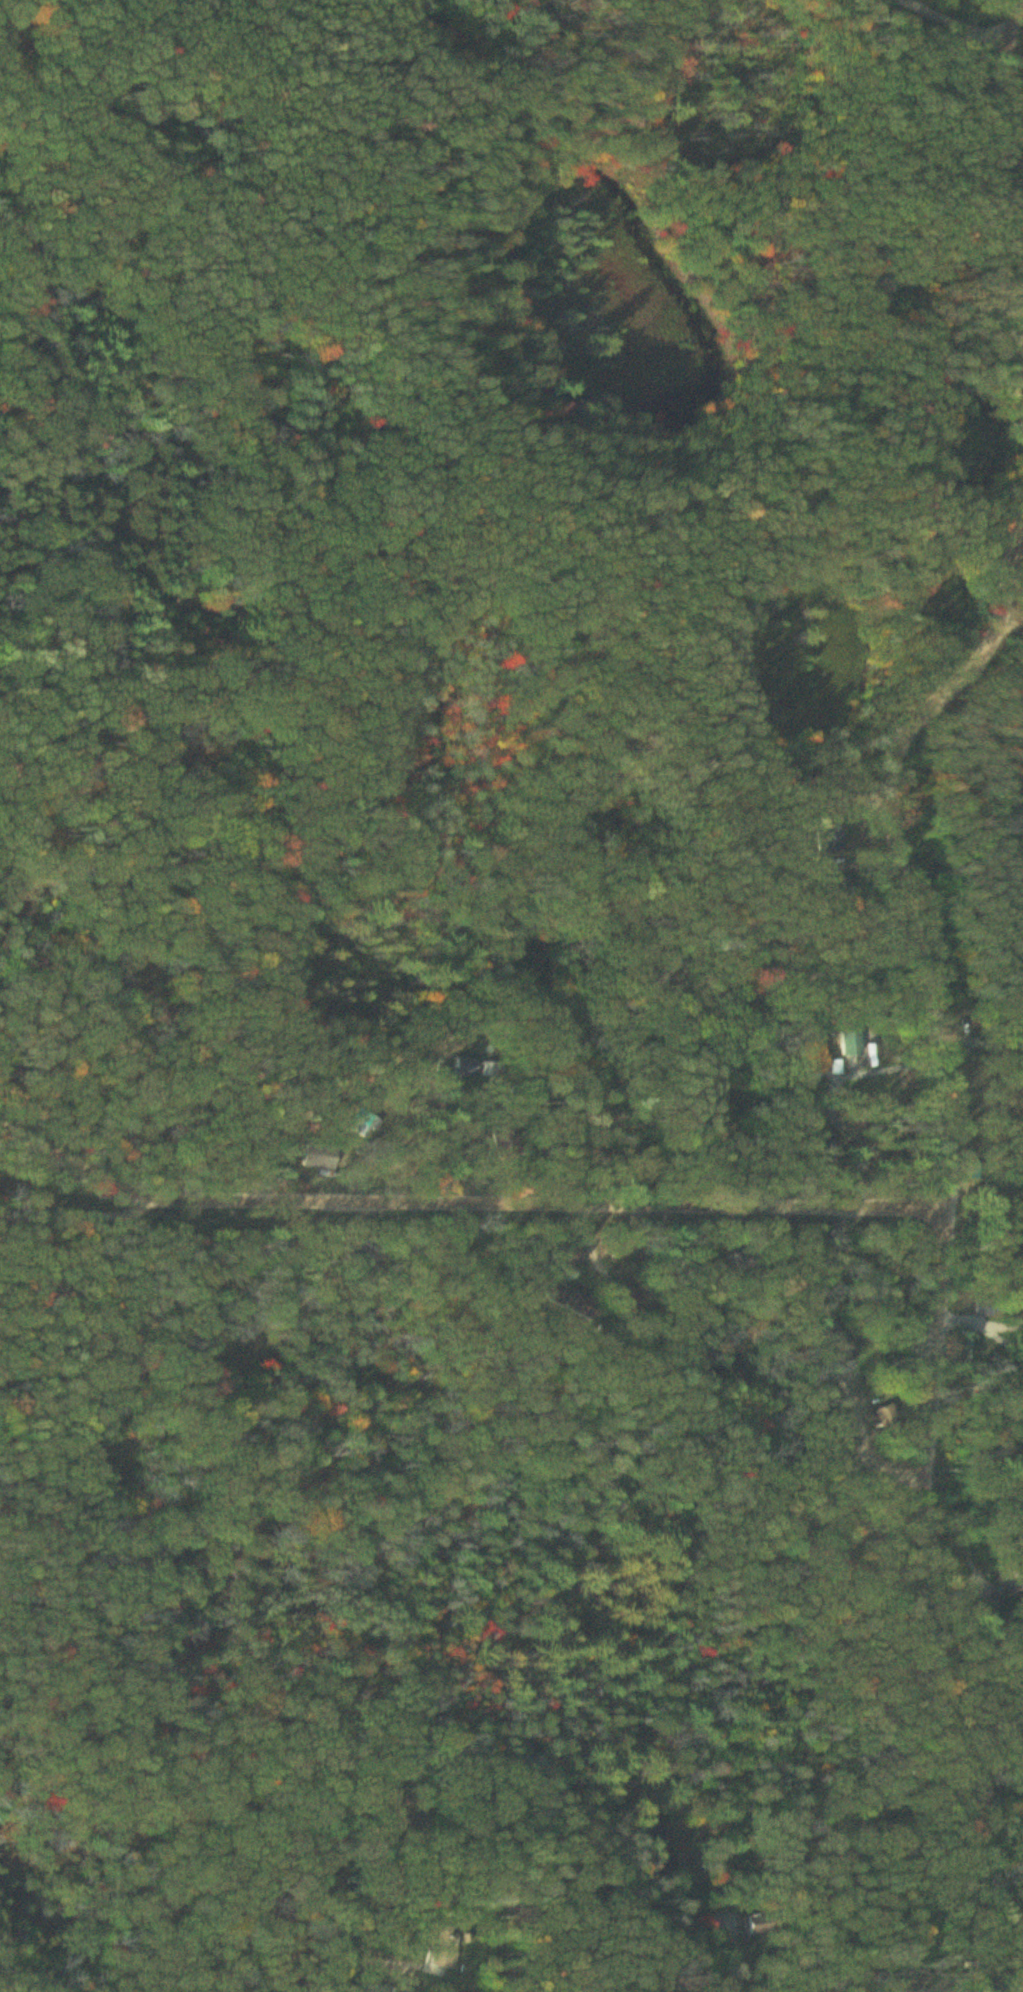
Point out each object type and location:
road: (972, 21)
road: (1006, 124)
building: (852, 1044)
road: (990, 1051)
building: (818, 1059)
road: (956, 1065)
building: (827, 1141)
road: (471, 1208)
building: (575, 1258)
building: (988, 1311)
road: (982, 1626)
road: (349, 1961)
road: (682, 1991)

